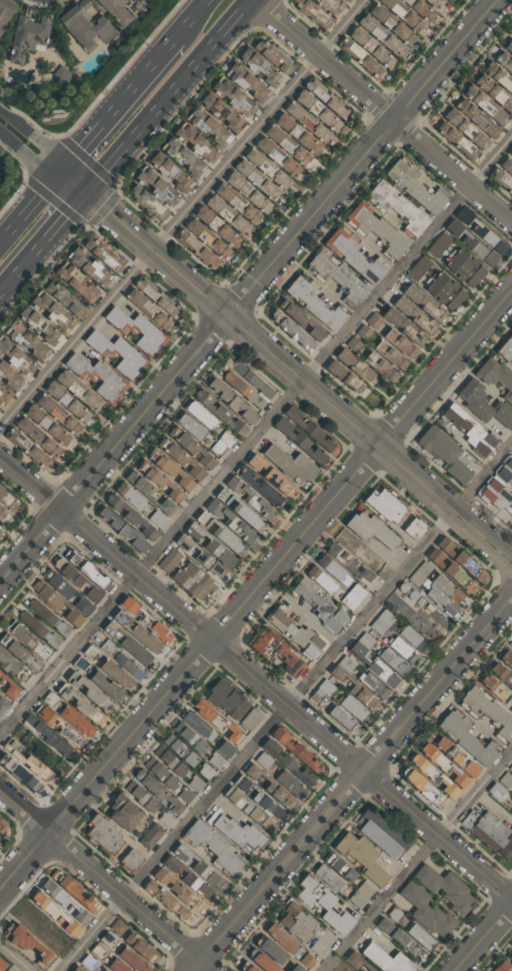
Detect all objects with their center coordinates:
building: (349, 0)
building: (345, 1)
building: (434, 3)
building: (333, 7)
building: (421, 10)
building: (115, 11)
building: (5, 12)
building: (311, 13)
building: (405, 15)
road: (188, 16)
building: (85, 27)
building: (397, 27)
building: (28, 37)
building: (388, 39)
building: (508, 46)
building: (377, 49)
building: (280, 57)
building: (361, 59)
building: (503, 61)
building: (259, 66)
building: (494, 71)
building: (247, 81)
building: (492, 91)
building: (510, 92)
building: (232, 95)
road: (170, 96)
building: (328, 99)
road: (116, 100)
building: (493, 107)
road: (384, 112)
building: (323, 113)
building: (229, 115)
building: (482, 117)
building: (310, 121)
building: (207, 126)
building: (459, 128)
road: (32, 136)
building: (304, 136)
building: (453, 139)
building: (194, 141)
building: (290, 145)
building: (511, 147)
building: (510, 153)
road: (26, 154)
building: (182, 156)
building: (285, 161)
building: (506, 165)
traffic signals: (57, 168)
building: (270, 168)
building: (178, 174)
building: (499, 180)
building: (155, 184)
building: (264, 184)
building: (413, 185)
traffic signals: (85, 193)
building: (253, 195)
road: (28, 201)
building: (147, 203)
building: (240, 203)
building: (396, 206)
road: (184, 215)
building: (235, 219)
building: (222, 229)
building: (376, 230)
building: (479, 231)
road: (42, 242)
building: (469, 242)
building: (215, 243)
building: (438, 244)
building: (197, 252)
building: (101, 255)
building: (353, 256)
building: (86, 266)
building: (418, 268)
building: (465, 268)
building: (336, 277)
building: (75, 284)
road: (249, 292)
building: (446, 292)
building: (159, 296)
building: (70, 300)
building: (314, 302)
building: (423, 303)
building: (139, 310)
building: (53, 311)
building: (413, 315)
building: (300, 319)
building: (375, 320)
building: (403, 326)
building: (45, 328)
building: (136, 331)
building: (365, 331)
building: (295, 334)
building: (26, 340)
building: (355, 343)
building: (505, 348)
building: (391, 354)
building: (117, 355)
building: (14, 357)
road: (284, 364)
building: (350, 367)
building: (344, 376)
building: (496, 377)
building: (8, 378)
building: (96, 378)
building: (251, 379)
building: (243, 389)
building: (3, 395)
building: (86, 395)
building: (231, 400)
building: (72, 402)
building: (483, 405)
building: (219, 413)
building: (61, 414)
building: (197, 419)
building: (308, 427)
building: (53, 428)
building: (468, 429)
building: (36, 438)
road: (256, 438)
building: (300, 441)
building: (190, 447)
building: (511, 449)
building: (28, 450)
building: (443, 453)
building: (180, 459)
building: (290, 463)
building: (169, 471)
building: (505, 472)
building: (271, 475)
building: (160, 481)
building: (258, 487)
building: (511, 489)
building: (151, 492)
building: (494, 494)
building: (9, 499)
building: (250, 499)
building: (386, 506)
building: (239, 511)
building: (5, 515)
building: (130, 517)
building: (231, 523)
building: (0, 525)
building: (0, 528)
building: (414, 529)
building: (511, 529)
building: (122, 530)
building: (370, 531)
building: (219, 533)
building: (211, 546)
building: (201, 559)
building: (169, 560)
building: (460, 561)
building: (347, 563)
building: (332, 567)
building: (85, 569)
building: (451, 571)
building: (420, 573)
building: (76, 578)
building: (322, 579)
building: (194, 582)
road: (256, 591)
building: (66, 592)
building: (407, 594)
building: (443, 595)
building: (354, 597)
building: (56, 602)
building: (319, 607)
building: (46, 615)
building: (144, 620)
building: (383, 621)
building: (37, 627)
building: (137, 633)
building: (297, 635)
building: (28, 637)
building: (414, 637)
building: (510, 643)
building: (126, 644)
building: (363, 644)
building: (108, 647)
building: (404, 649)
building: (20, 651)
building: (274, 651)
building: (87, 657)
building: (506, 660)
building: (394, 661)
building: (128, 665)
building: (15, 667)
building: (108, 667)
building: (385, 672)
building: (502, 675)
road: (255, 679)
building: (98, 680)
building: (375, 684)
building: (9, 686)
building: (322, 691)
building: (355, 691)
building: (497, 691)
building: (90, 694)
building: (228, 698)
building: (4, 706)
building: (81, 707)
road: (286, 707)
building: (353, 709)
building: (488, 711)
building: (68, 715)
building: (252, 718)
building: (341, 718)
building: (197, 722)
building: (216, 722)
building: (59, 727)
building: (47, 737)
building: (191, 737)
building: (466, 740)
building: (176, 744)
building: (227, 748)
building: (297, 752)
building: (455, 757)
building: (192, 758)
building: (217, 759)
building: (264, 759)
building: (27, 760)
building: (172, 760)
building: (286, 763)
building: (444, 766)
building: (20, 773)
building: (435, 778)
building: (172, 781)
building: (197, 782)
building: (266, 782)
building: (292, 783)
road: (351, 785)
building: (425, 787)
building: (498, 790)
building: (157, 792)
building: (143, 796)
building: (259, 798)
building: (290, 802)
building: (248, 809)
building: (126, 812)
building: (167, 817)
building: (1, 826)
building: (232, 827)
building: (382, 832)
building: (103, 834)
building: (489, 834)
building: (152, 835)
building: (213, 848)
building: (361, 858)
building: (132, 860)
road: (418, 863)
building: (198, 867)
building: (338, 868)
building: (187, 878)
building: (328, 878)
road: (105, 880)
building: (174, 889)
building: (444, 889)
building: (75, 892)
building: (361, 893)
building: (165, 901)
building: (65, 903)
building: (322, 905)
building: (427, 912)
building: (56, 913)
building: (395, 913)
building: (296, 923)
building: (119, 926)
building: (422, 936)
building: (283, 937)
road: (484, 938)
building: (110, 939)
building: (399, 940)
building: (322, 943)
building: (31, 947)
building: (511, 947)
building: (143, 948)
building: (100, 950)
building: (275, 954)
road: (15, 957)
building: (510, 958)
building: (135, 959)
building: (354, 959)
building: (308, 960)
building: (386, 960)
building: (259, 961)
building: (90, 962)
building: (2, 964)
building: (119, 965)
building: (244, 967)
building: (503, 967)
building: (77, 969)
building: (106, 970)

